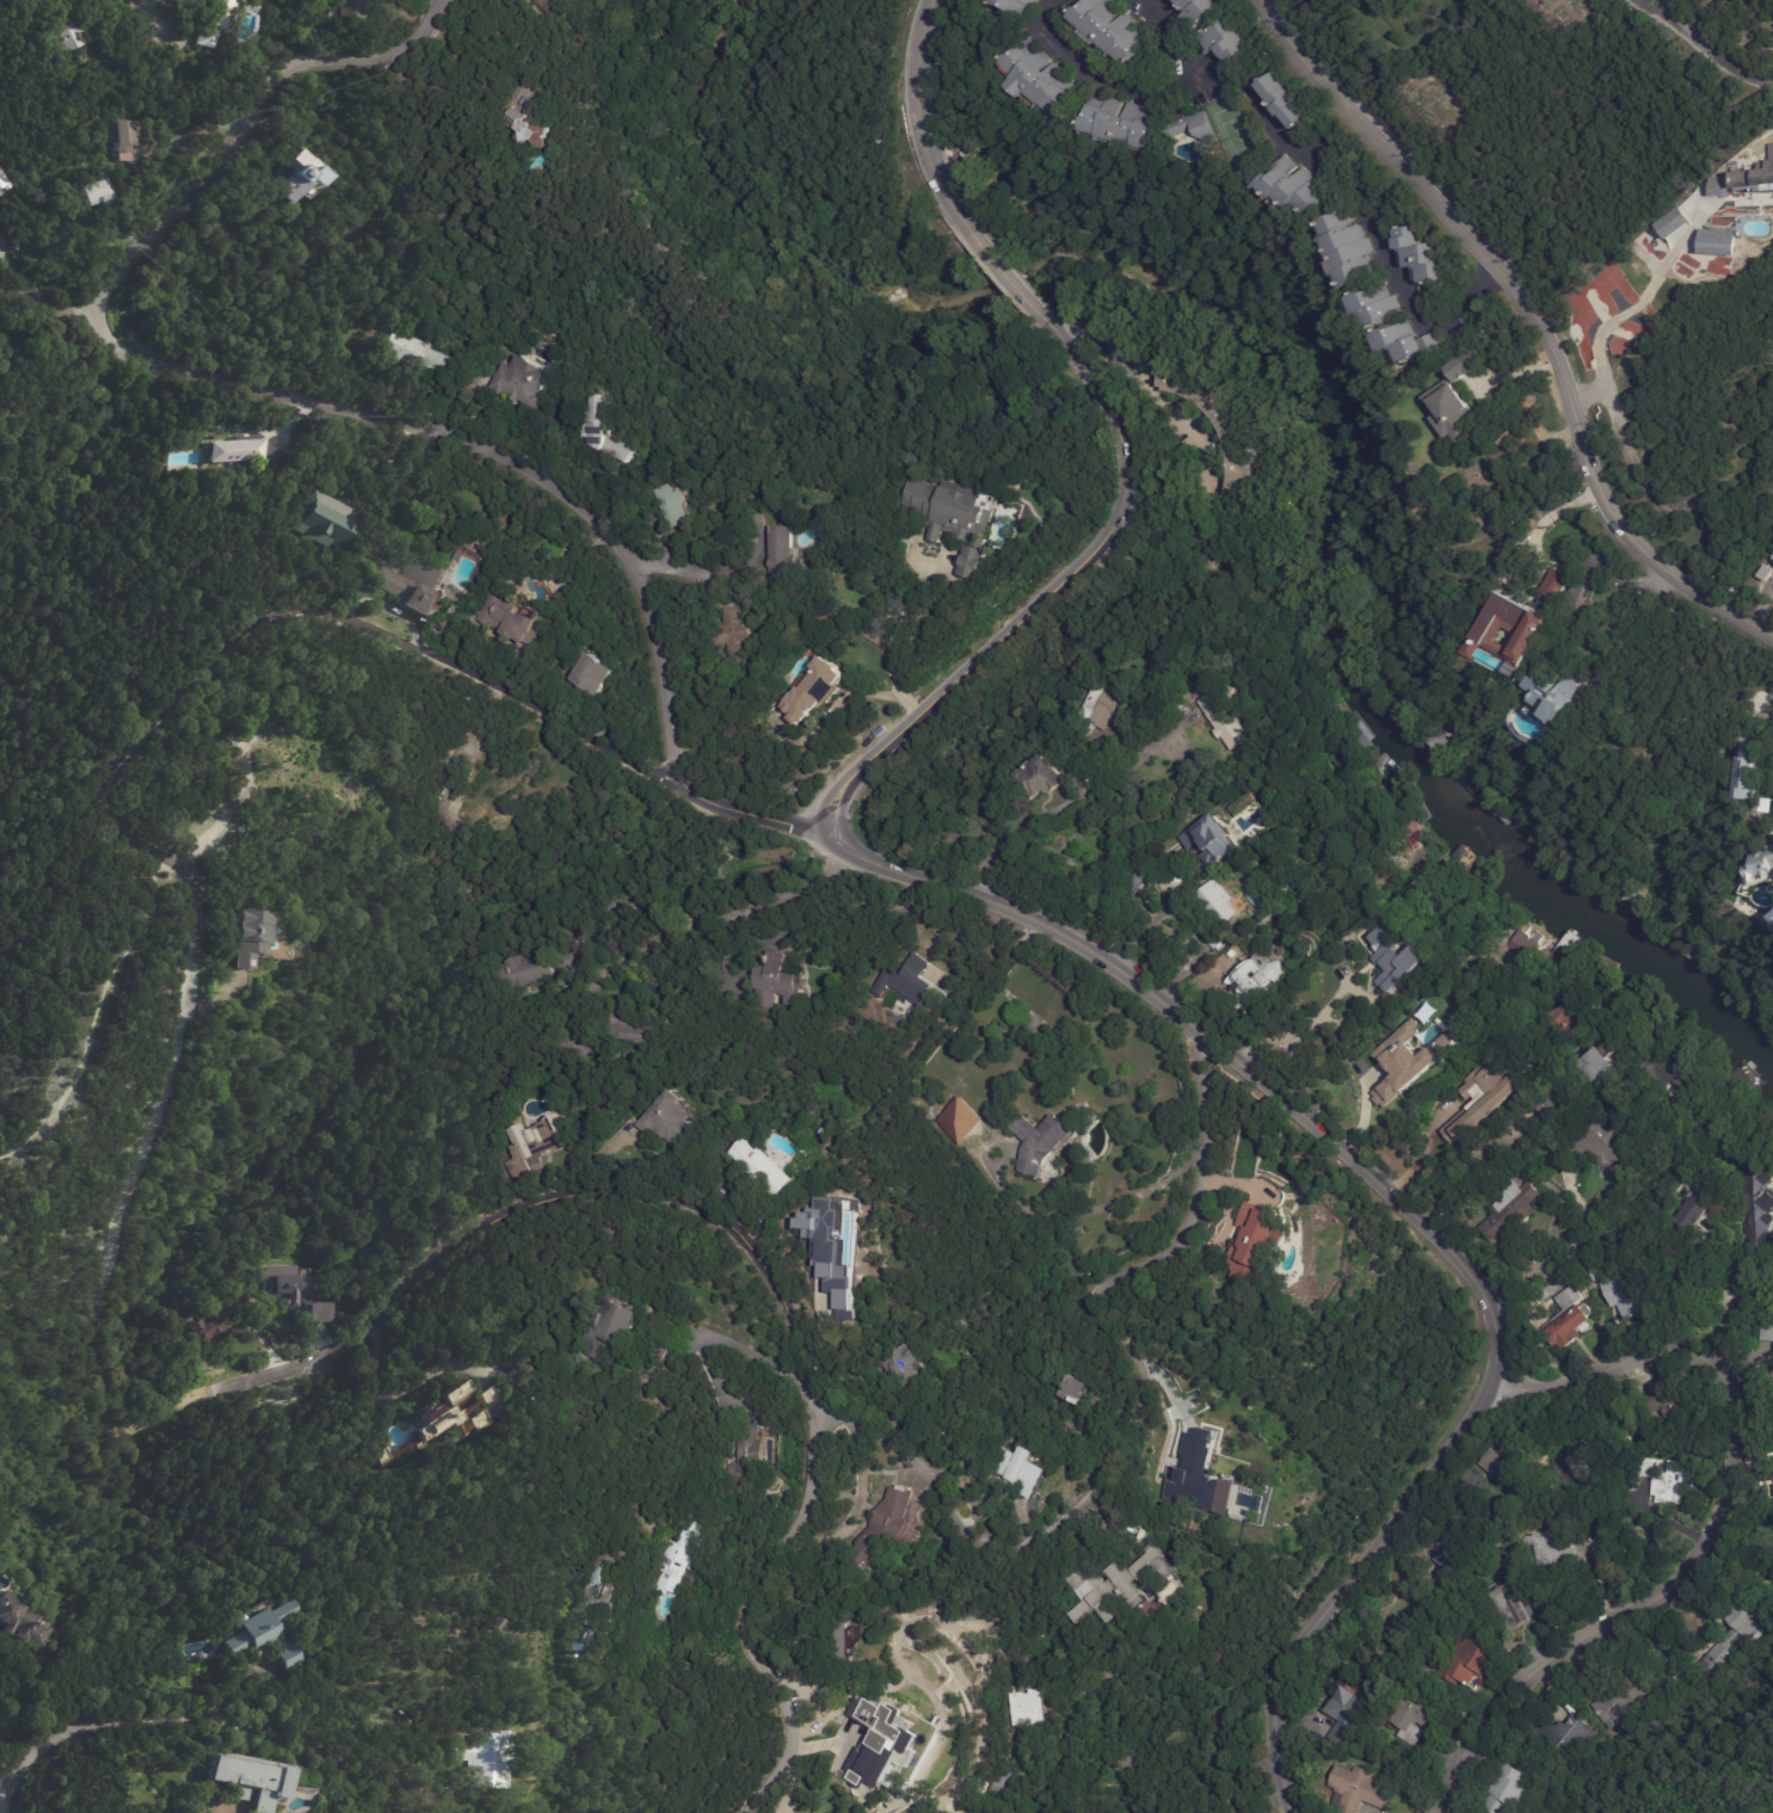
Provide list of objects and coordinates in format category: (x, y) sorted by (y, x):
building: (542, 6)
building: (1017, 6)
building: (352, 10)
building: (1198, 12)
building: (210, 21)
building: (61, 27)
building: (1112, 30)
road: (1178, 35)
building: (1226, 43)
road: (1703, 48)
building: (1040, 79)
building: (494, 86)
building: (1287, 103)
road: (248, 121)
road: (917, 122)
building: (1122, 124)
building: (1194, 129)
building: (532, 130)
building: (121, 140)
road: (1285, 143)
building: (1755, 175)
building: (300, 180)
building: (2, 184)
building: (1297, 190)
building: (94, 195)
building: (1669, 222)
building: (1714, 242)
building: (1352, 253)
building: (1422, 259)
road: (1008, 279)
road: (48, 300)
road: (1632, 308)
building: (1384, 314)
road: (1532, 316)
building: (1411, 347)
building: (364, 351)
building: (415, 356)
road: (1143, 375)
building: (519, 386)
building: (1453, 400)
building: (601, 434)
building: (242, 450)
building: (1244, 464)
road: (552, 481)
building: (672, 508)
building: (955, 520)
road: (1541, 520)
building: (327, 523)
building: (782, 557)
building: (1763, 572)
road: (685, 575)
building: (413, 588)
road: (1051, 596)
building: (507, 623)
building: (1517, 623)
building: (734, 640)
road: (250, 643)
road: (895, 643)
building: (1516, 668)
building: (590, 677)
building: (1553, 692)
building: (814, 693)
building: (1102, 705)
road: (835, 715)
building: (1227, 717)
building: (283, 758)
building: (1748, 772)
building: (1040, 778)
building: (485, 787)
road: (1067, 803)
road: (1767, 816)
building: (1772, 835)
building: (1212, 840)
building: (1762, 865)
building: (1288, 892)
building: (1629, 893)
building: (1220, 904)
building: (1657, 906)
road: (716, 919)
building: (246, 937)
road: (1172, 937)
building: (1217, 939)
building: (1516, 946)
building: (1397, 957)
building: (521, 973)
building: (774, 979)
building: (1257, 980)
building: (911, 982)
road: (91, 1016)
building: (1560, 1023)
road: (1297, 1029)
building: (1440, 1030)
building: (623, 1031)
building: (627, 1059)
building: (1400, 1063)
building: (1603, 1065)
building: (1666, 1069)
building: (1562, 1092)
building: (1485, 1102)
building: (667, 1121)
building: (959, 1122)
building: (1040, 1143)
building: (1605, 1143)
building: (532, 1145)
road: (1427, 1152)
road: (1463, 1158)
building: (759, 1168)
road: (1658, 1182)
building: (1757, 1207)
road: (1088, 1208)
building: (1512, 1208)
road: (1406, 1211)
building: (1695, 1214)
building: (1256, 1242)
road: (755, 1258)
building: (837, 1279)
building: (287, 1285)
building: (1626, 1288)
road: (1722, 1306)
building: (318, 1314)
building: (1571, 1320)
building: (208, 1326)
building: (1766, 1328)
building: (605, 1336)
building: (900, 1369)
building: (867, 1382)
building: (1073, 1393)
road: (398, 1394)
building: (1672, 1414)
building: (449, 1423)
building: (1497, 1439)
building: (1583, 1455)
building: (746, 1456)
building: (1507, 1466)
building: (1023, 1469)
road: (1102, 1478)
building: (1199, 1478)
building: (1672, 1481)
building: (886, 1525)
road: (1732, 1531)
building: (1455, 1541)
building: (1557, 1552)
building: (677, 1556)
building: (590, 1578)
building: (1122, 1580)
building: (1512, 1610)
building: (20, 1623)
building: (494, 1623)
building: (591, 1626)
building: (265, 1635)
building: (1731, 1636)
building: (847, 1642)
building: (827, 1651)
building: (1470, 1665)
building: (1312, 1691)
building: (1619, 1702)
road: (191, 1707)
building: (1030, 1708)
building: (1346, 1718)
building: (1417, 1720)
building: (538, 1725)
building: (885, 1738)
building: (1566, 1738)
building: (486, 1759)
building: (1311, 1766)
building: (1003, 1775)
building: (253, 1778)
building: (1508, 1792)
building: (1360, 1793)
road: (2, 1809)
road: (1223, 1812)

